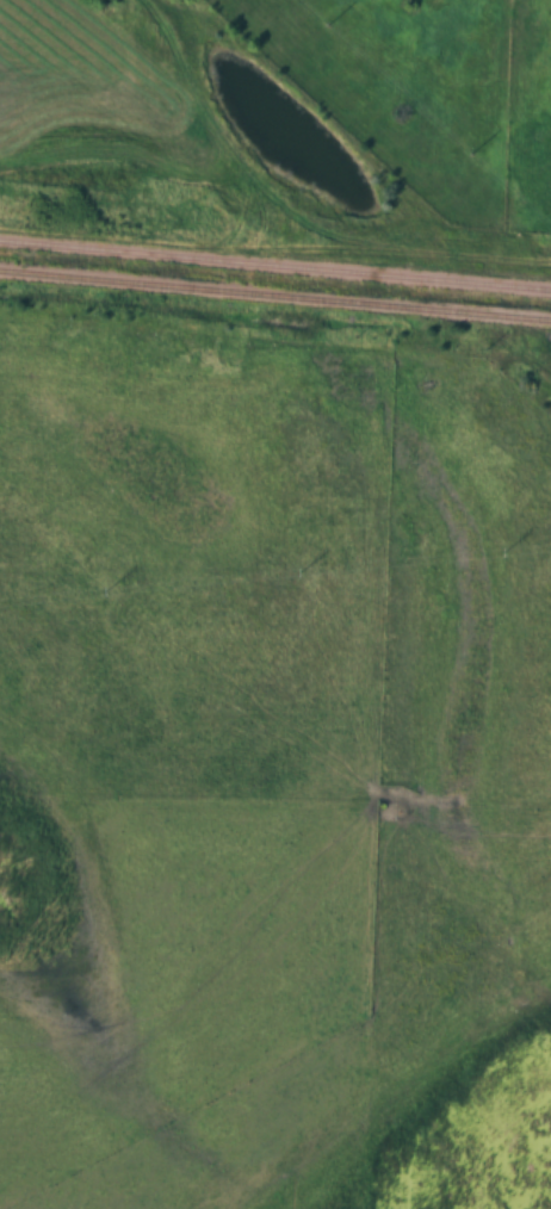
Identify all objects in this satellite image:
railway: (274, 266)
railway: (275, 296)

